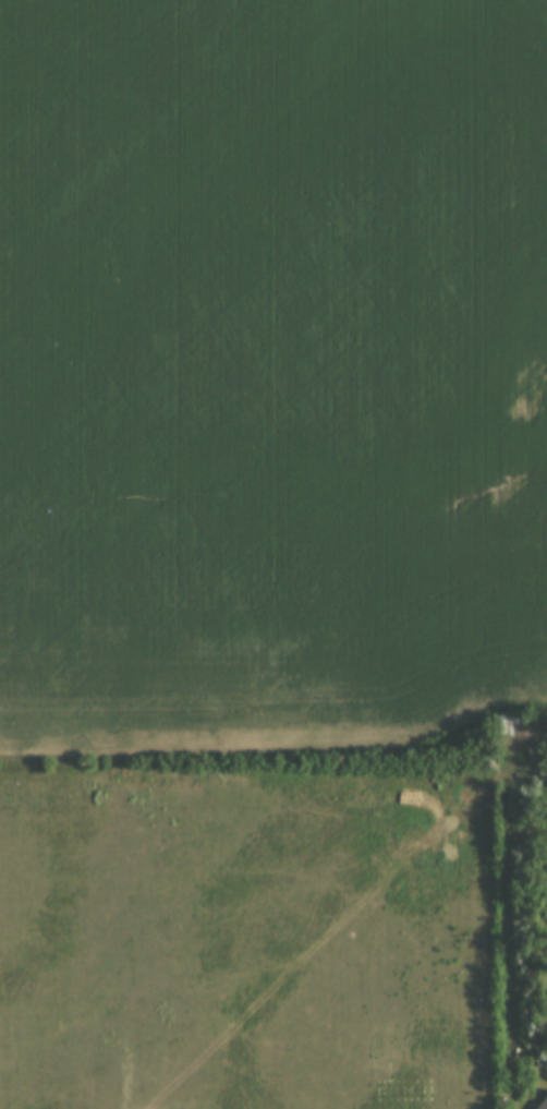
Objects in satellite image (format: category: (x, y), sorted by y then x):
building: (540, 1101)

